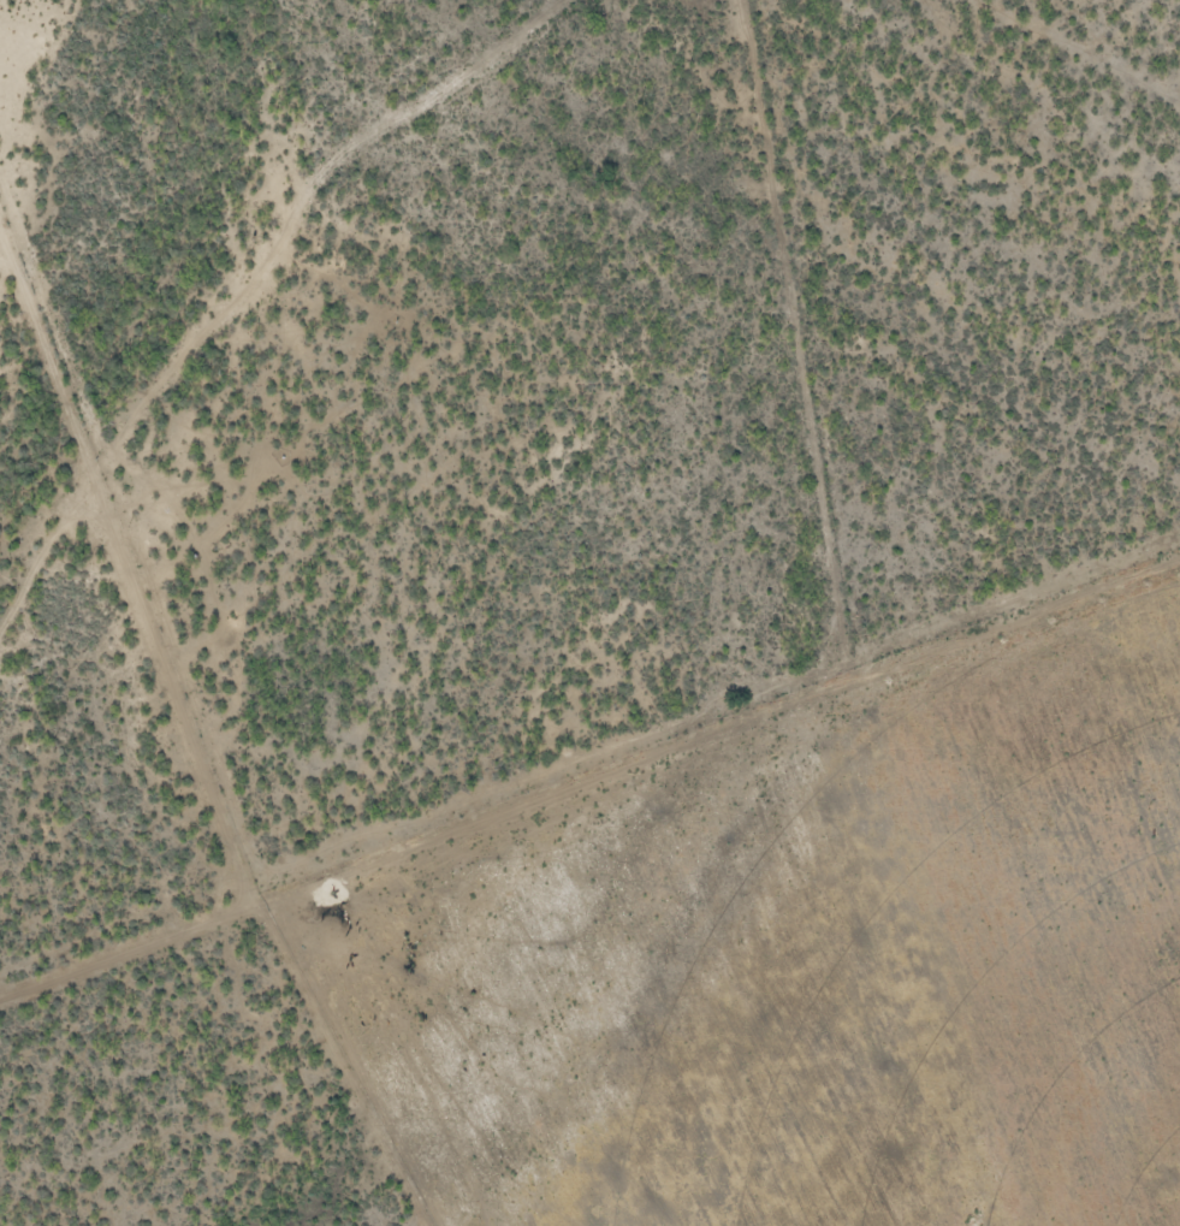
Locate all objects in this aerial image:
road: (143, 414)

